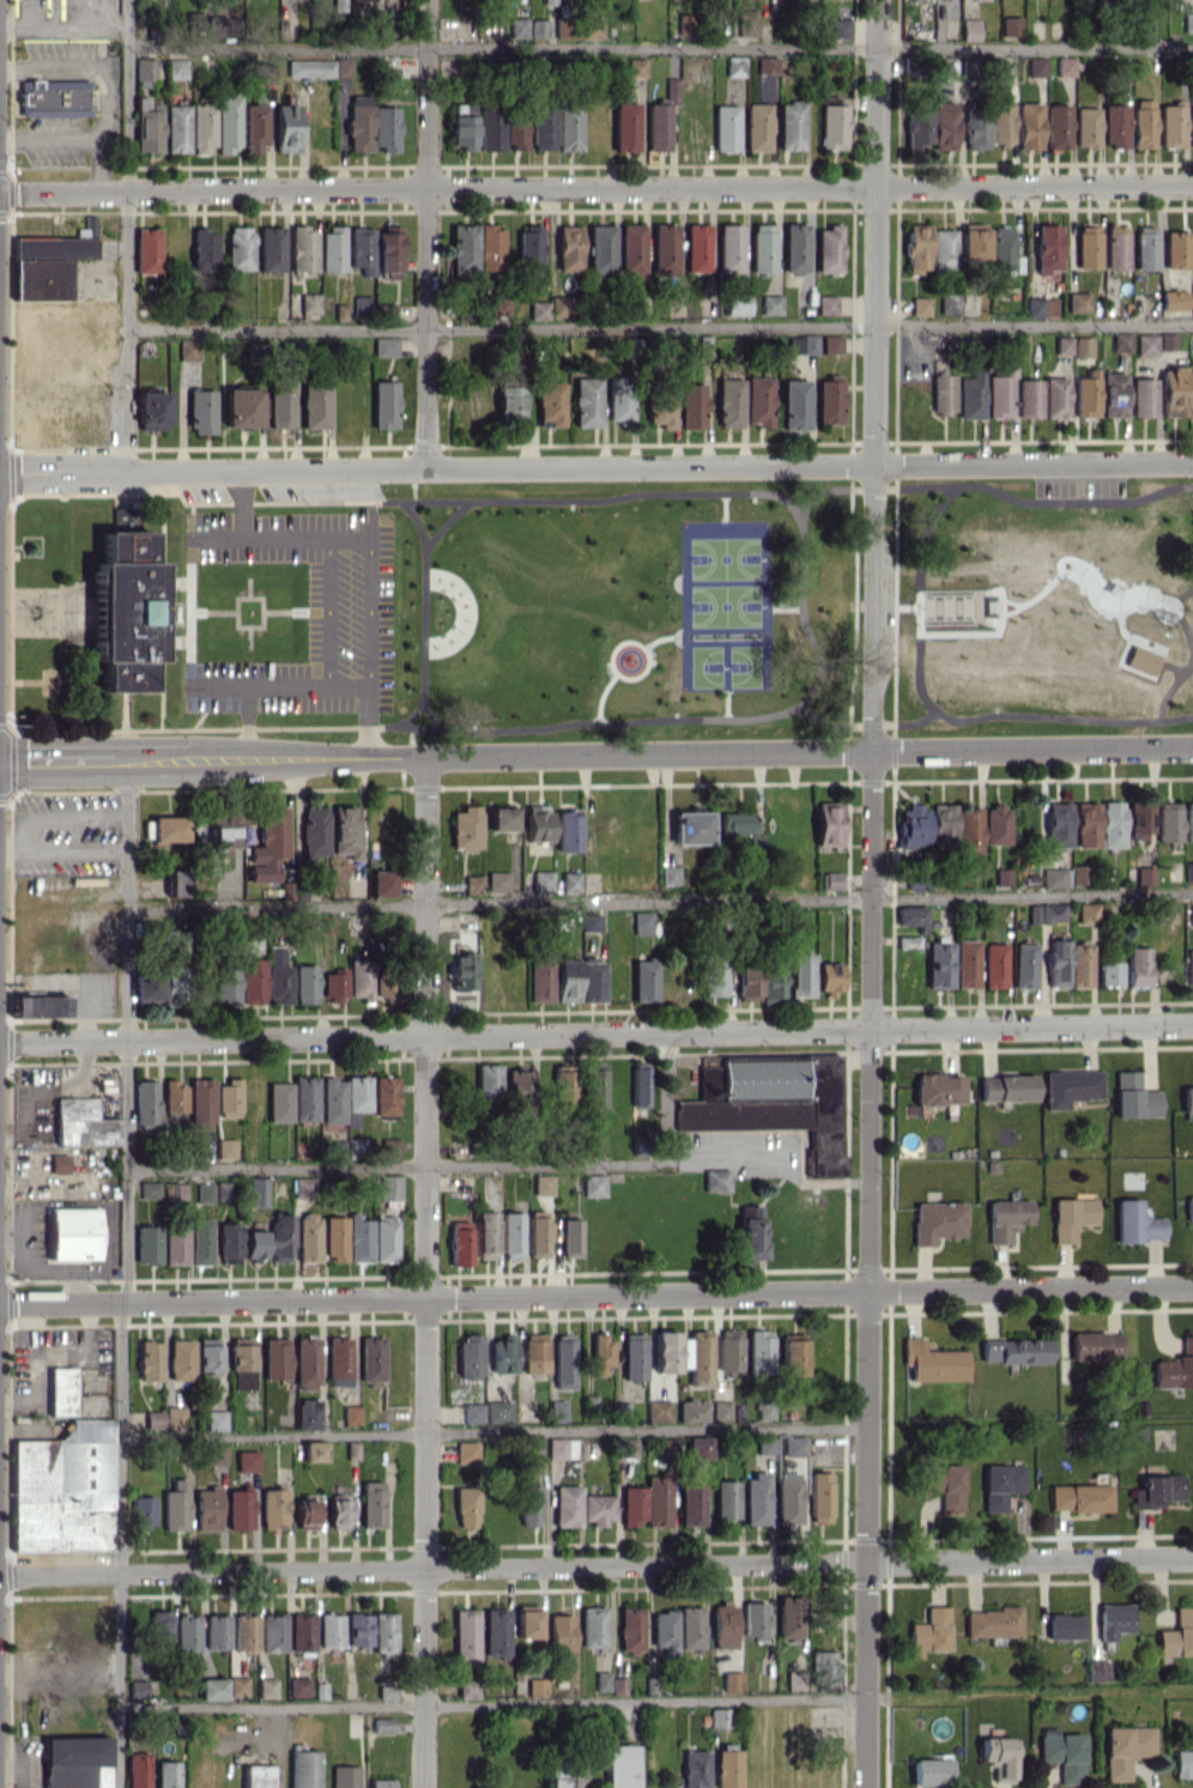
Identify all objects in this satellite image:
building: (358, 0)
building: (969, 0)
building: (547, 1)
building: (335, 5)
building: (1187, 22)
building: (683, 23)
building: (746, 23)
building: (216, 25)
building: (1011, 25)
road: (63, 26)
building: (593, 26)
building: (517, 28)
building: (539, 28)
building: (565, 28)
building: (840, 28)
building: (969, 29)
road: (660, 46)
building: (767, 65)
building: (343, 66)
building: (734, 66)
building: (1035, 66)
building: (1065, 66)
building: (310, 67)
building: (636, 67)
building: (176, 68)
building: (145, 71)
building: (265, 73)
building: (671, 89)
building: (53, 97)
building: (228, 122)
building: (359, 123)
building: (1000, 123)
building: (1143, 123)
building: (789, 125)
building: (1028, 125)
building: (1114, 125)
building: (147, 126)
building: (462, 126)
building: (832, 126)
building: (943, 126)
building: (1058, 126)
building: (1171, 126)
building: (1191, 126)
building: (201, 127)
building: (254, 127)
building: (286, 127)
building: (543, 127)
building: (625, 127)
building: (658, 127)
building: (757, 127)
building: (918, 127)
building: (1085, 127)
building: (176, 128)
building: (384, 128)
building: (490, 128)
building: (569, 128)
building: (725, 128)
building: (975, 128)
building: (515, 131)
road: (596, 187)
building: (89, 225)
road: (426, 234)
road: (127, 235)
building: (973, 243)
building: (490, 246)
building: (569, 247)
building: (794, 247)
building: (1001, 247)
building: (1086, 247)
building: (1145, 247)
building: (1191, 247)
building: (53, 248)
building: (240, 248)
building: (303, 248)
building: (332, 248)
building: (464, 248)
building: (529, 248)
building: (631, 248)
building: (664, 248)
building: (697, 248)
building: (729, 248)
building: (762, 248)
building: (829, 248)
building: (943, 248)
building: (1047, 248)
building: (1115, 248)
building: (204, 249)
building: (271, 249)
building: (361, 249)
building: (916, 249)
building: (1175, 249)
building: (146, 250)
building: (600, 250)
building: (387, 251)
building: (41, 279)
building: (1173, 299)
building: (1077, 302)
building: (310, 303)
building: (735, 303)
building: (949, 303)
building: (362, 304)
building: (770, 304)
building: (825, 304)
building: (498, 305)
building: (558, 307)
building: (920, 307)
building: (1040, 307)
building: (538, 309)
road: (660, 326)
building: (1167, 340)
building: (1120, 341)
building: (801, 344)
building: (831, 344)
building: (1146, 344)
building: (1062, 345)
building: (384, 346)
building: (1082, 346)
building: (188, 350)
building: (1000, 390)
building: (1173, 392)
building: (943, 393)
building: (971, 394)
building: (1086, 394)
building: (1113, 394)
building: (1191, 395)
building: (1055, 396)
building: (1143, 396)
building: (618, 398)
building: (1029, 398)
building: (758, 400)
building: (829, 400)
building: (281, 401)
building: (509, 401)
building: (587, 401)
building: (729, 402)
building: (383, 404)
building: (550, 404)
building: (314, 405)
building: (691, 405)
building: (794, 405)
building: (240, 407)
building: (661, 408)
building: (152, 410)
building: (201, 411)
road: (779, 463)
road: (182, 469)
road: (1032, 484)
parking lot: (66, 486)
parking lot: (322, 490)
parking lot: (205, 491)
road: (636, 492)
road: (411, 513)
building: (123, 546)
park: (725, 574)
road: (250, 586)
parking lot: (349, 586)
flagpole: (19, 589)
road: (368, 589)
road: (896, 604)
road: (856, 606)
flagpole: (18, 607)
road: (162, 607)
park: (788, 608)
road: (230, 610)
road: (927, 611)
road: (328, 612)
road: (36, 622)
building: (123, 624)
road: (250, 625)
road: (250, 634)
road: (927, 651)
building: (1140, 660)
road: (368, 702)
road: (11, 714)
road: (1031, 715)
road: (638, 723)
road: (595, 753)
building: (503, 818)
building: (1138, 818)
building: (1188, 820)
building: (1168, 822)
building: (538, 823)
building: (737, 823)
building: (828, 823)
building: (943, 823)
building: (1058, 824)
building: (1086, 824)
building: (1112, 824)
building: (912, 825)
building: (995, 825)
building: (466, 828)
building: (691, 828)
building: (166, 829)
building: (216, 830)
building: (568, 830)
building: (968, 830)
building: (314, 831)
building: (345, 831)
building: (756, 842)
building: (268, 847)
building: (1173, 869)
building: (1188, 871)
building: (1078, 873)
building: (670, 874)
building: (1144, 875)
building: (1053, 878)
building: (543, 880)
building: (830, 880)
building: (498, 881)
building: (570, 881)
building: (177, 883)
building: (381, 883)
building: (473, 884)
road: (871, 893)
road: (659, 902)
building: (1052, 911)
building: (1034, 913)
building: (1086, 913)
building: (1165, 913)
building: (910, 915)
building: (1191, 915)
building: (589, 922)
building: (641, 922)
building: (172, 938)
building: (908, 941)
building: (1056, 962)
building: (939, 963)
building: (965, 963)
building: (993, 965)
building: (1023, 965)
building: (1079, 965)
building: (1138, 965)
building: (1188, 966)
building: (462, 971)
building: (1109, 972)
building: (800, 975)
building: (277, 976)
building: (714, 976)
building: (829, 977)
building: (359, 978)
building: (539, 980)
building: (592, 980)
building: (644, 980)
building: (252, 981)
building: (565, 981)
building: (773, 981)
building: (747, 982)
building: (304, 983)
building: (226, 984)
building: (334, 984)
building: (146, 986)
building: (172, 986)
building: (384, 989)
building: (40, 1005)
road: (596, 1032)
building: (488, 1081)
building: (517, 1083)
building: (562, 1085)
building: (640, 1086)
building: (1070, 1086)
building: (594, 1087)
building: (1006, 1087)
building: (935, 1089)
building: (357, 1093)
building: (384, 1095)
building: (174, 1096)
building: (1133, 1097)
building: (228, 1098)
building: (304, 1098)
road: (665, 1098)
building: (1187, 1098)
building: (333, 1101)
building: (773, 1101)
building: (279, 1102)
building: (145, 1103)
building: (201, 1103)
building: (81, 1123)
building: (592, 1145)
building: (356, 1146)
building: (225, 1147)
building: (388, 1147)
road: (765, 1154)
road: (425, 1162)
building: (57, 1163)
road: (390, 1168)
building: (716, 1180)
road: (38, 1184)
building: (543, 1184)
building: (593, 1184)
building: (304, 1187)
building: (389, 1187)
building: (223, 1189)
building: (175, 1190)
building: (258, 1192)
building: (204, 1193)
building: (1188, 1207)
building: (1070, 1217)
building: (1005, 1218)
building: (937, 1220)
building: (1136, 1223)
building: (749, 1231)
building: (73, 1234)
building: (485, 1235)
building: (510, 1235)
building: (537, 1236)
building: (279, 1237)
building: (307, 1237)
building: (333, 1237)
building: (570, 1237)
building: (358, 1238)
building: (384, 1240)
building: (199, 1241)
building: (228, 1242)
building: (459, 1243)
building: (147, 1244)
building: (174, 1244)
building: (254, 1244)
road: (126, 1274)
road: (595, 1295)
building: (1095, 1345)
building: (729, 1350)
building: (665, 1351)
building: (759, 1351)
building: (1013, 1351)
building: (534, 1352)
building: (600, 1353)
building: (502, 1354)
building: (792, 1354)
building: (470, 1356)
building: (634, 1356)
building: (697, 1357)
building: (207, 1358)
building: (275, 1358)
building: (180, 1359)
building: (370, 1359)
building: (149, 1360)
building: (338, 1360)
building: (305, 1362)
building: (563, 1362)
building: (932, 1362)
building: (241, 1365)
building: (1175, 1368)
building: (60, 1392)
building: (498, 1411)
building: (557, 1411)
building: (658, 1411)
building: (692, 1411)
building: (721, 1411)
building: (472, 1412)
building: (307, 1414)
building: (351, 1414)
building: (174, 1418)
building: (153, 1419)
building: (216, 1420)
road: (493, 1432)
building: (765, 1444)
building: (794, 1445)
building: (561, 1448)
building: (625, 1448)
building: (697, 1448)
building: (313, 1450)
building: (465, 1451)
building: (216, 1454)
building: (247, 1460)
building: (945, 1485)
building: (1000, 1485)
building: (62, 1489)
building: (1156, 1491)
building: (819, 1497)
building: (1078, 1497)
building: (756, 1498)
building: (725, 1499)
building: (787, 1501)
building: (647, 1502)
building: (370, 1504)
building: (690, 1504)
building: (175, 1505)
building: (529, 1505)
building: (565, 1505)
building: (466, 1507)
building: (272, 1508)
building: (206, 1509)
building: (238, 1509)
building: (595, 1509)
building: (141, 1510)
building: (304, 1514)
building: (338, 1514)
road: (809, 1563)
road: (211, 1571)
building: (788, 1616)
building: (1113, 1619)
building: (755, 1620)
building: (991, 1622)
building: (526, 1624)
building: (722, 1625)
building: (592, 1626)
building: (1062, 1626)
building: (690, 1628)
building: (159, 1629)
building: (358, 1629)
building: (629, 1629)
building: (329, 1630)
building: (216, 1631)
building: (495, 1631)
building: (559, 1631)
building: (186, 1632)
building: (244, 1632)
building: (272, 1632)
building: (301, 1632)
building: (382, 1632)
building: (662, 1632)
building: (928, 1632)
building: (1176, 1634)
building: (465, 1635)
building: (823, 1668)
building: (1096, 1671)
road: (59, 1672)
road: (423, 1678)
building: (794, 1679)
building: (601, 1680)
building: (731, 1680)
building: (237, 1686)
building: (297, 1686)
building: (535, 1686)
building: (618, 1686)
building: (266, 1687)
building: (137, 1689)
building: (211, 1689)
building: (466, 1689)
building: (386, 1692)
road: (1029, 1695)
road: (491, 1703)
building: (717, 1716)
building: (382, 1725)
road: (278, 1746)
building: (1125, 1748)
building: (1061, 1753)
building: (997, 1757)
building: (74, 1762)
building: (1183, 1763)
building: (620, 1766)
building: (303, 1769)
building: (694, 1769)
building: (726, 1769)
building: (137, 1770)
building: (929, 1771)
building: (165, 1774)
building: (256, 1776)
building: (344, 1776)
building: (557, 1781)
building: (380, 1783)

